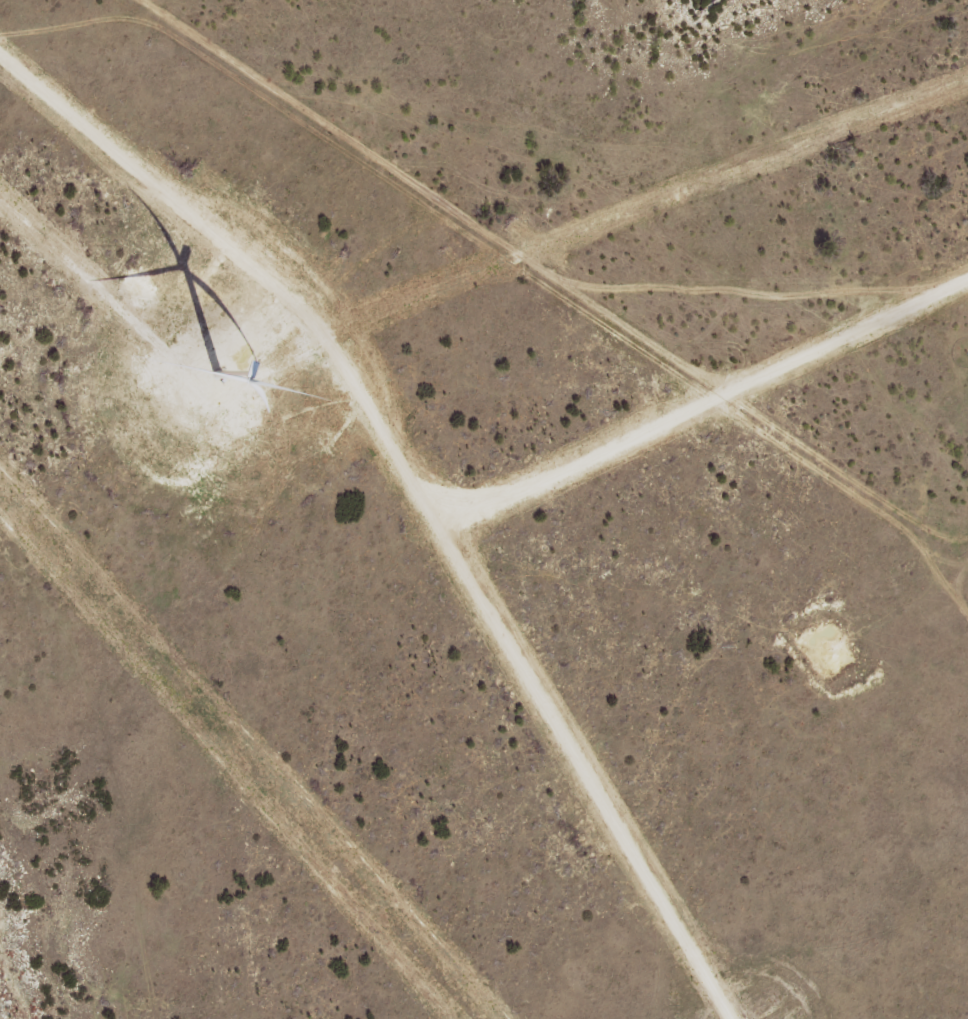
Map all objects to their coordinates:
road: (133, 33)
road: (734, 163)
wind turbine: (208, 359)
road: (123, 768)

